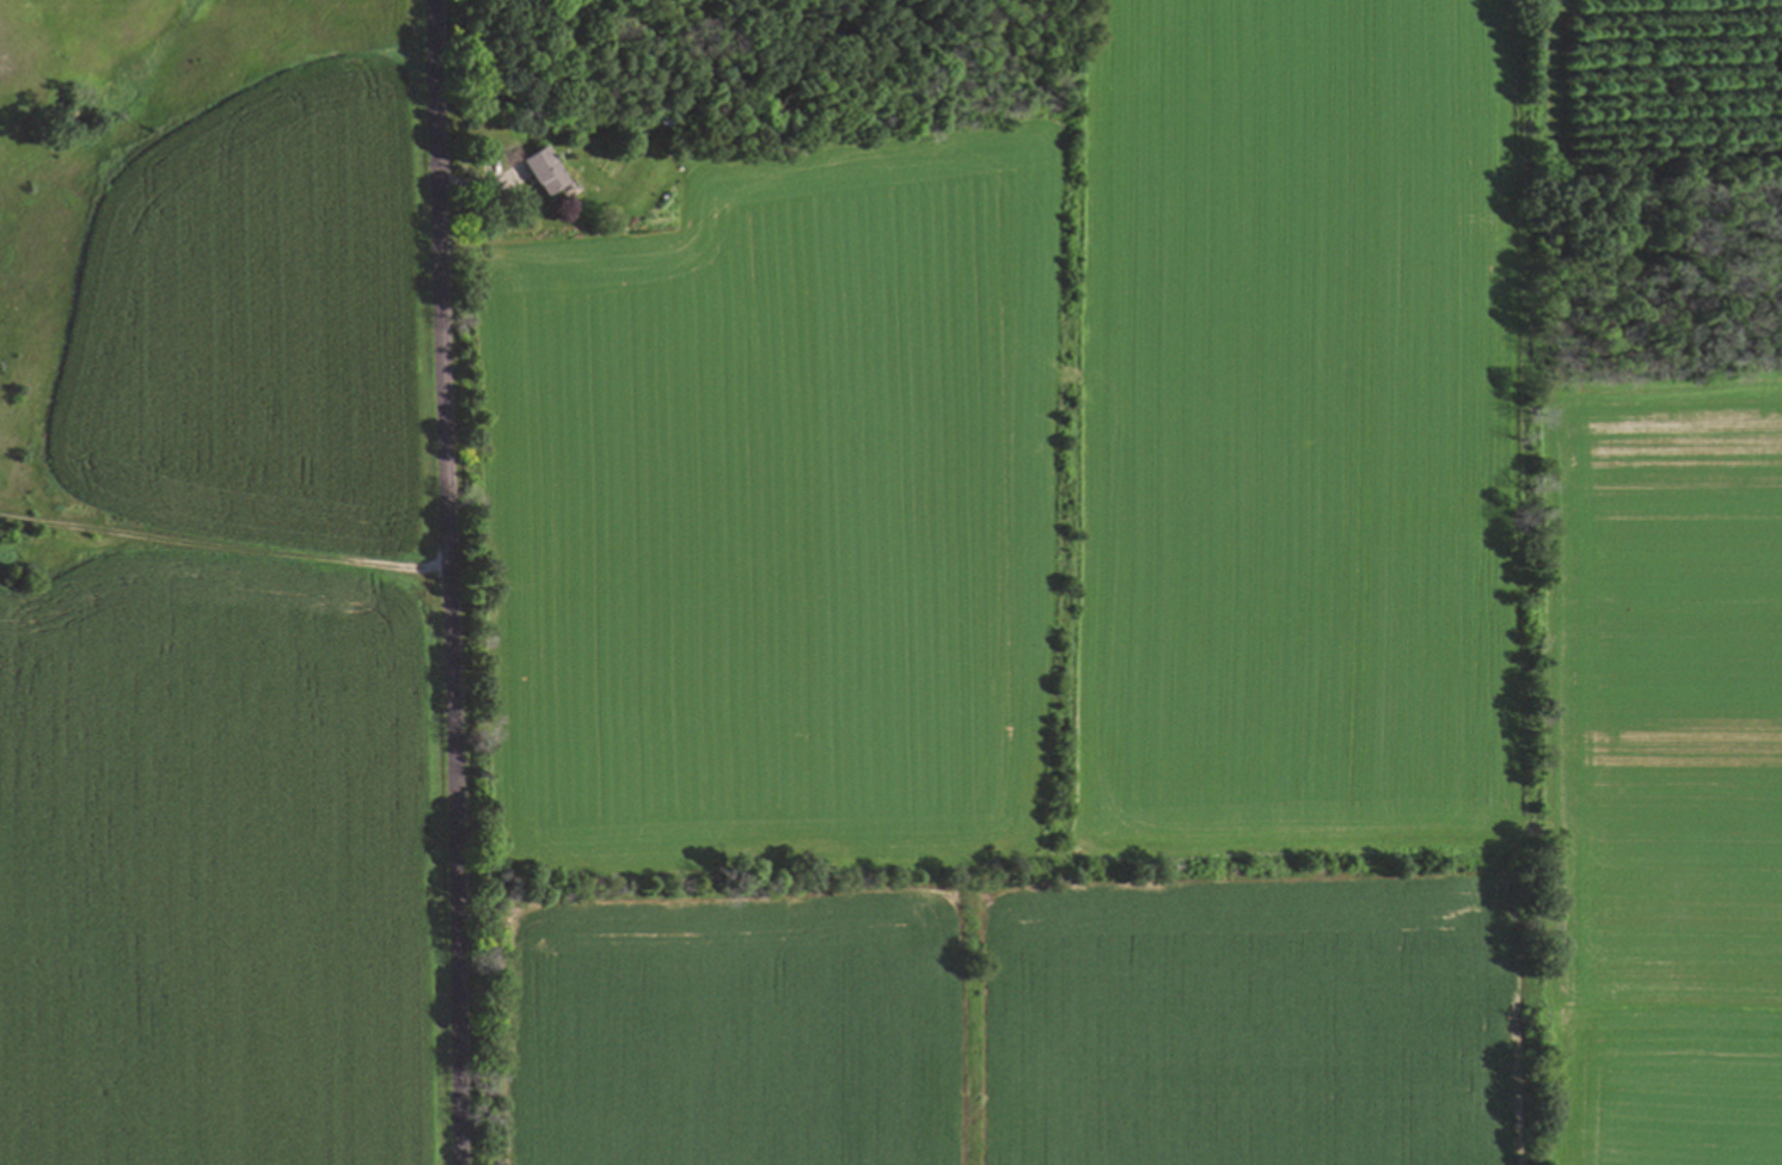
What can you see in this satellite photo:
building: (545, 172)
road: (454, 582)

